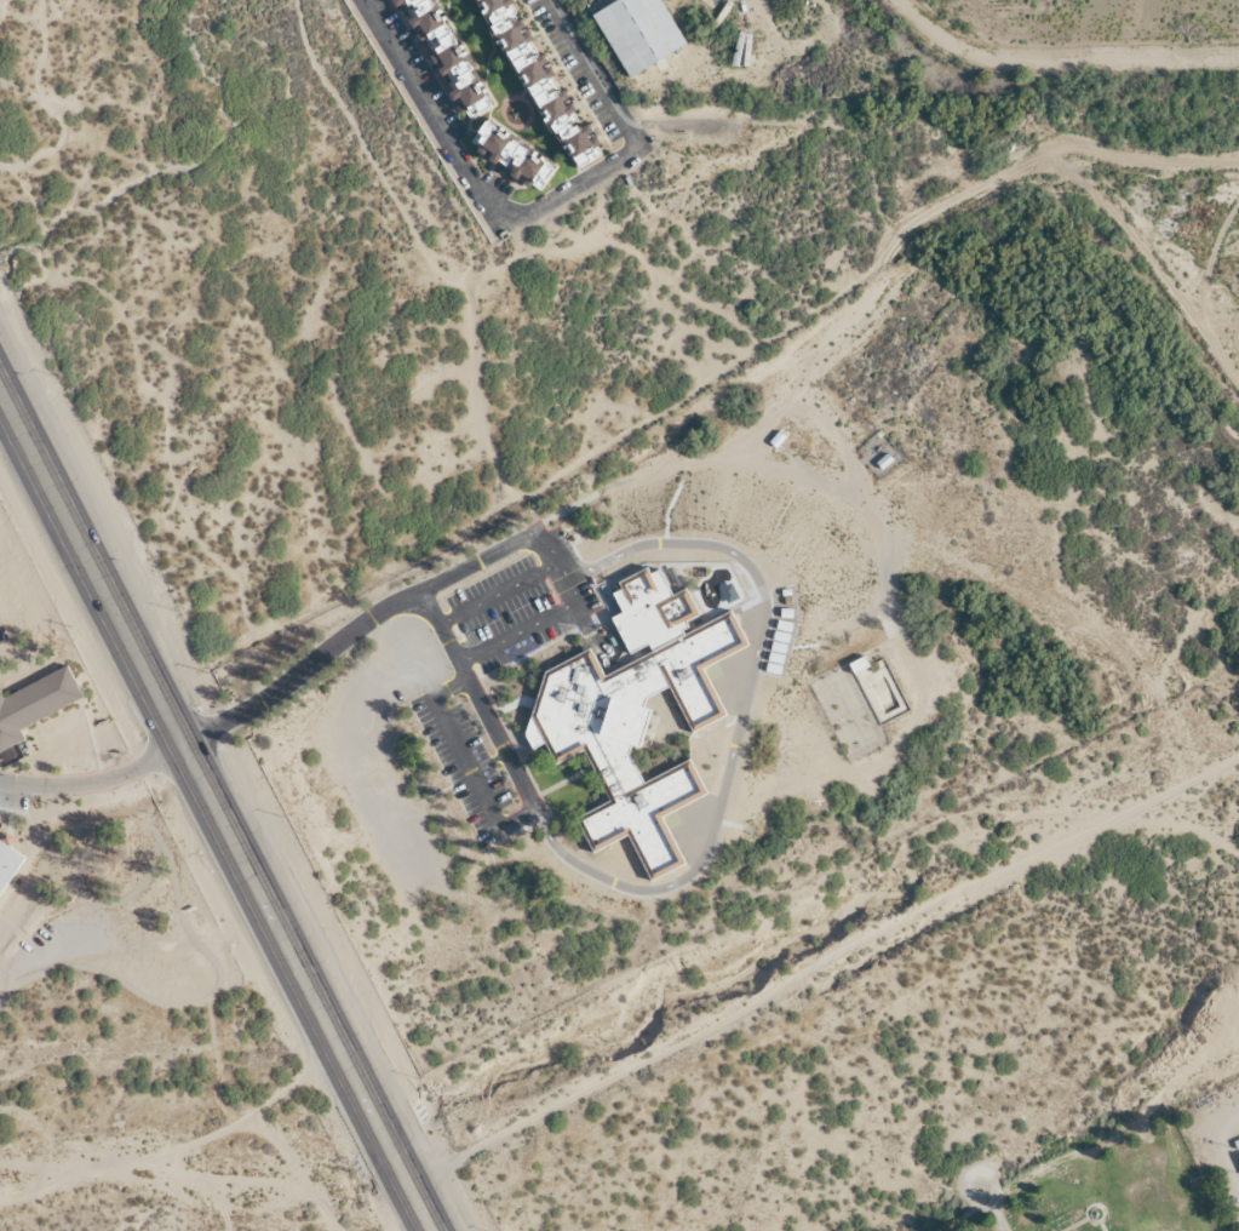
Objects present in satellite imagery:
building: (636, 32)
road: (1059, 56)
road: (532, 212)
road: (520, 534)
road: (557, 576)
road: (495, 594)
road: (516, 631)
road: (93, 778)
road: (532, 798)
road: (216, 808)
park: (1103, 1189)

